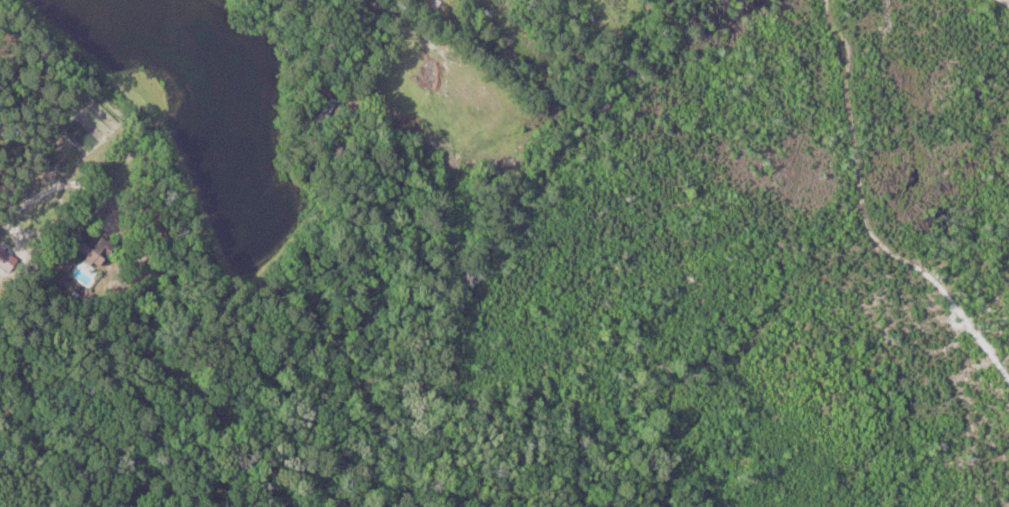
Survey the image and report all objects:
road: (64, 183)
building: (108, 251)

